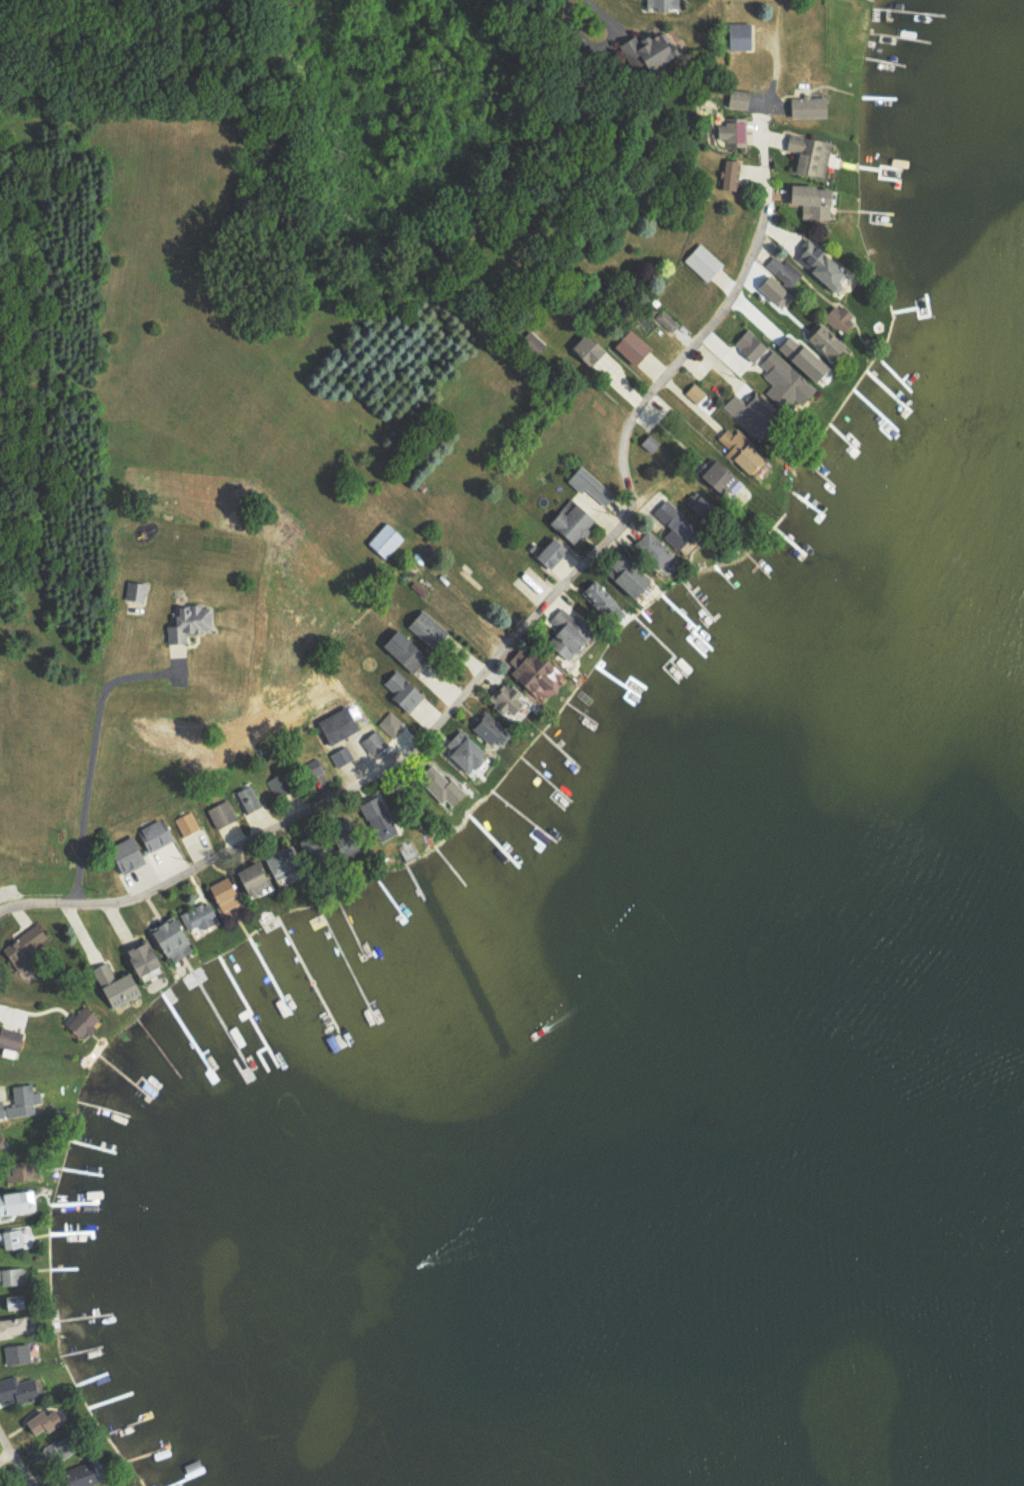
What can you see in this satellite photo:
building: (660, 4)
building: (738, 35)
building: (641, 50)
building: (735, 97)
building: (806, 106)
building: (732, 130)
building: (808, 154)
building: (729, 174)
building: (810, 200)
building: (701, 260)
building: (819, 266)
building: (784, 271)
building: (772, 290)
building: (838, 318)
building: (665, 320)
building: (822, 340)
building: (748, 344)
building: (629, 345)
building: (584, 349)
building: (800, 357)
building: (783, 381)
building: (693, 392)
building: (745, 411)
building: (647, 442)
building: (737, 448)
building: (719, 478)
building: (588, 483)
building: (568, 520)
building: (671, 523)
building: (384, 539)
building: (650, 547)
building: (549, 551)
building: (623, 571)
building: (599, 597)
building: (193, 623)
building: (424, 626)
building: (565, 631)
road: (513, 640)
building: (402, 649)
building: (531, 670)
building: (401, 690)
building: (505, 698)
building: (336, 723)
building: (390, 723)
building: (487, 728)
building: (372, 740)
building: (462, 749)
building: (343, 759)
building: (280, 785)
building: (439, 785)
building: (249, 807)
building: (225, 815)
building: (376, 816)
building: (187, 824)
building: (274, 869)
building: (228, 898)
building: (185, 930)
building: (34, 943)
building: (151, 959)
building: (104, 973)
building: (124, 990)
building: (83, 1020)
building: (12, 1039)
building: (28, 1100)
building: (24, 1205)
building: (15, 1238)
building: (13, 1277)
building: (18, 1302)
building: (17, 1328)
building: (19, 1354)
building: (19, 1390)
building: (51, 1422)
building: (65, 1448)
road: (15, 1462)

